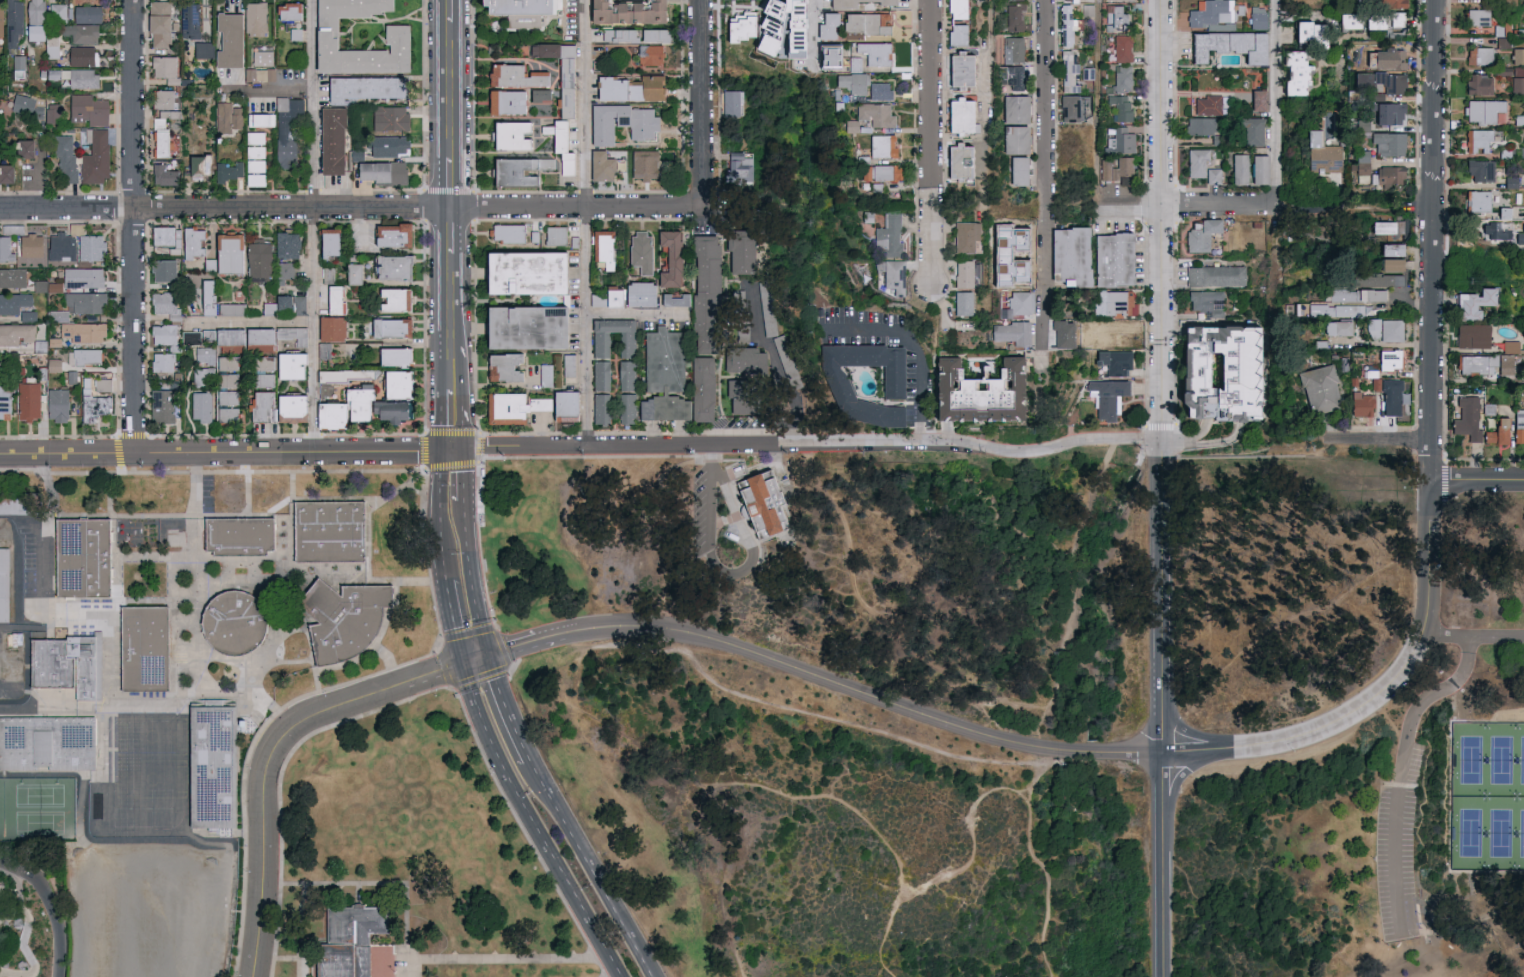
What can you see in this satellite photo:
building: (1389, 3)
building: (838, 4)
building: (511, 8)
building: (0, 9)
building: (955, 9)
building: (284, 10)
road: (450, 10)
building: (620, 10)
building: (32, 11)
building: (71, 13)
building: (1210, 13)
building: (1014, 15)
building: (1477, 17)
building: (252, 18)
building: (1116, 18)
building: (1256, 18)
building: (190, 20)
building: (1347, 20)
building: (847, 21)
building: (12, 22)
building: (157, 22)
building: (776, 22)
building: (873, 22)
building: (1390, 23)
building: (823, 25)
road: (814, 26)
building: (736, 27)
building: (1066, 27)
building: (1501, 29)
building: (30, 31)
building: (80, 32)
building: (1306, 32)
building: (617, 34)
building: (651, 34)
building: (955, 34)
building: (393, 36)
building: (225, 39)
building: (1503, 42)
building: (758, 43)
building: (1226, 45)
building: (49, 46)
building: (1122, 47)
building: (201, 49)
building: (1012, 49)
building: (596, 51)
building: (873, 53)
building: (648, 54)
building: (80, 55)
building: (823, 55)
building: (1478, 55)
building: (1517, 55)
building: (1388, 58)
building: (17, 61)
building: (854, 64)
building: (163, 66)
building: (1069, 69)
building: (960, 70)
building: (557, 72)
building: (1087, 72)
building: (1295, 72)
building: (260, 74)
building: (518, 75)
building: (1012, 76)
building: (74, 77)
building: (1513, 77)
building: (1121, 78)
building: (1388, 81)
building: (852, 84)
building: (1479, 84)
building: (372, 86)
road: (256, 88)
road: (450, 89)
building: (877, 90)
road: (987, 92)
building: (538, 94)
building: (164, 99)
building: (1256, 99)
building: (508, 101)
road: (1093, 101)
road: (706, 102)
road: (1276, 102)
building: (732, 103)
building: (22, 105)
building: (1211, 105)
building: (1070, 107)
building: (1120, 107)
building: (87, 109)
building: (1016, 109)
building: (1482, 110)
building: (53, 112)
building: (1388, 113)
building: (874, 114)
building: (955, 115)
building: (227, 116)
building: (387, 117)
building: (258, 119)
building: (603, 121)
building: (641, 124)
building: (1200, 125)
building: (1239, 125)
building: (851, 126)
building: (163, 131)
building: (285, 131)
building: (1252, 131)
building: (505, 135)
building: (1016, 139)
building: (328, 140)
building: (1123, 140)
building: (1476, 140)
road: (931, 142)
building: (1387, 143)
building: (385, 145)
building: (881, 145)
building: (559, 146)
building: (22, 148)
building: (252, 151)
building: (1322, 154)
building: (354, 155)
building: (64, 156)
building: (94, 156)
building: (958, 161)
building: (1196, 162)
building: (1360, 162)
building: (642, 164)
building: (599, 166)
building: (737, 167)
building: (1123, 168)
building: (1238, 168)
building: (516, 169)
building: (1105, 169)
building: (1257, 169)
building: (1018, 170)
building: (1479, 170)
building: (226, 171)
building: (377, 171)
building: (252, 172)
building: (877, 172)
building: (6, 173)
building: (166, 175)
building: (1386, 175)
building: (1213, 176)
road: (1046, 181)
building: (1510, 181)
road: (450, 183)
building: (1478, 201)
road: (1184, 203)
road: (1414, 204)
road: (354, 208)
road: (1300, 212)
building: (1501, 212)
road: (1164, 220)
road: (587, 222)
building: (1388, 222)
road: (315, 224)
road: (135, 225)
road: (450, 230)
building: (1484, 230)
building: (516, 233)
building: (164, 235)
building: (387, 235)
building: (553, 235)
building: (1201, 235)
building: (966, 236)
building: (888, 237)
building: (1519, 237)
road: (1434, 239)
building: (191, 242)
building: (283, 244)
building: (324, 244)
building: (29, 245)
building: (59, 246)
building: (90, 247)
building: (598, 248)
building: (4, 249)
building: (1391, 249)
building: (637, 250)
building: (738, 251)
building: (224, 252)
building: (1067, 253)
building: (665, 258)
building: (255, 259)
building: (1115, 259)
building: (1390, 264)
building: (388, 267)
building: (161, 270)
building: (283, 270)
building: (516, 272)
building: (350, 274)
building: (963, 274)
building: (1214, 275)
building: (893, 276)
building: (11, 277)
building: (81, 277)
building: (703, 278)
building: (1376, 280)
building: (46, 286)
road: (450, 293)
building: (635, 294)
building: (1353, 294)
building: (206, 296)
building: (608, 297)
building: (390, 298)
building: (669, 299)
building: (12, 302)
building: (85, 302)
building: (161, 302)
building: (1207, 302)
building: (1473, 302)
building: (963, 303)
building: (1018, 303)
building: (1115, 303)
building: (287, 304)
building: (230, 308)
building: (1327, 310)
building: (671, 312)
road: (638, 314)
building: (27, 315)
building: (58, 315)
road: (252, 322)
building: (383, 327)
building: (516, 327)
building: (1334, 327)
road: (147, 328)
building: (328, 328)
building: (1382, 329)
road: (117, 330)
building: (80, 331)
building: (1012, 332)
building: (15, 333)
building: (1061, 333)
building: (161, 334)
building: (290, 334)
building: (1471, 335)
building: (188, 338)
building: (598, 344)
building: (1510, 346)
road: (915, 349)
building: (323, 350)
building: (84, 356)
building: (388, 356)
building: (741, 359)
building: (1388, 359)
building: (161, 361)
road: (452, 361)
building: (1113, 361)
building: (241, 363)
building: (1343, 363)
building: (1476, 364)
building: (1504, 364)
building: (52, 365)
building: (285, 365)
building: (504, 365)
building: (567, 365)
building: (1221, 366)
building: (538, 375)
building: (599, 375)
building: (623, 375)
building: (658, 375)
building: (201, 376)
building: (225, 379)
building: (834, 379)
building: (258, 380)
building: (392, 383)
building: (699, 389)
building: (1318, 389)
building: (972, 391)
building: (1390, 394)
building: (1108, 397)
building: (26, 401)
building: (753, 402)
building: (553, 404)
building: (1361, 404)
building: (55, 405)
building: (160, 406)
building: (199, 406)
building: (225, 406)
building: (503, 406)
building: (1186, 406)
building: (92, 407)
building: (273, 407)
building: (368, 407)
building: (598, 408)
building: (625, 408)
road: (453, 409)
building: (325, 415)
building: (1466, 419)
building: (1518, 426)
building: (1496, 432)
road: (133, 435)
road: (286, 436)
road: (458, 437)
road: (447, 438)
road: (1377, 440)
road: (815, 443)
road: (453, 447)
traffic signals: (464, 447)
traffic signals: (442, 448)
road: (221, 450)
road: (425, 451)
road: (1247, 453)
road: (148, 454)
road: (465, 454)
road: (501, 457)
road: (1484, 460)
road: (299, 471)
road: (440, 476)
road: (1476, 480)
road: (466, 486)
building: (764, 504)
building: (21, 505)
building: (330, 533)
building: (241, 537)
road: (442, 543)
building: (84, 559)
road: (738, 576)
road: (473, 583)
building: (5, 586)
road: (1164, 597)
road: (1056, 614)
building: (344, 619)
road: (455, 620)
road: (871, 621)
building: (234, 623)
road: (1471, 639)
building: (145, 650)
traffic signals: (486, 655)
traffic signals: (465, 661)
road: (507, 667)
building: (69, 668)
road: (814, 675)
road: (711, 677)
road: (1443, 691)
road: (1380, 693)
road: (1454, 693)
road: (416, 696)
road: (505, 708)
park: (757, 716)
road: (1486, 717)
road: (493, 739)
building: (48, 743)
road: (272, 757)
park: (1469, 758)
park: (1500, 760)
park: (1522, 760)
building: (213, 769)
road: (540, 783)
road: (1029, 788)
park: (39, 794)
road: (832, 797)
park: (38, 806)
park: (1469, 832)
park: (1499, 832)
park: (1522, 833)
road: (1397, 837)
parking lot: (1396, 849)
road: (695, 852)
road: (1164, 865)
road: (1484, 871)
road: (9, 873)
road: (381, 884)
road: (603, 890)
road: (1433, 894)
road: (577, 895)
road: (51, 903)
road: (1489, 923)
building: (352, 937)
road: (298, 958)
road: (491, 958)
building: (383, 961)

